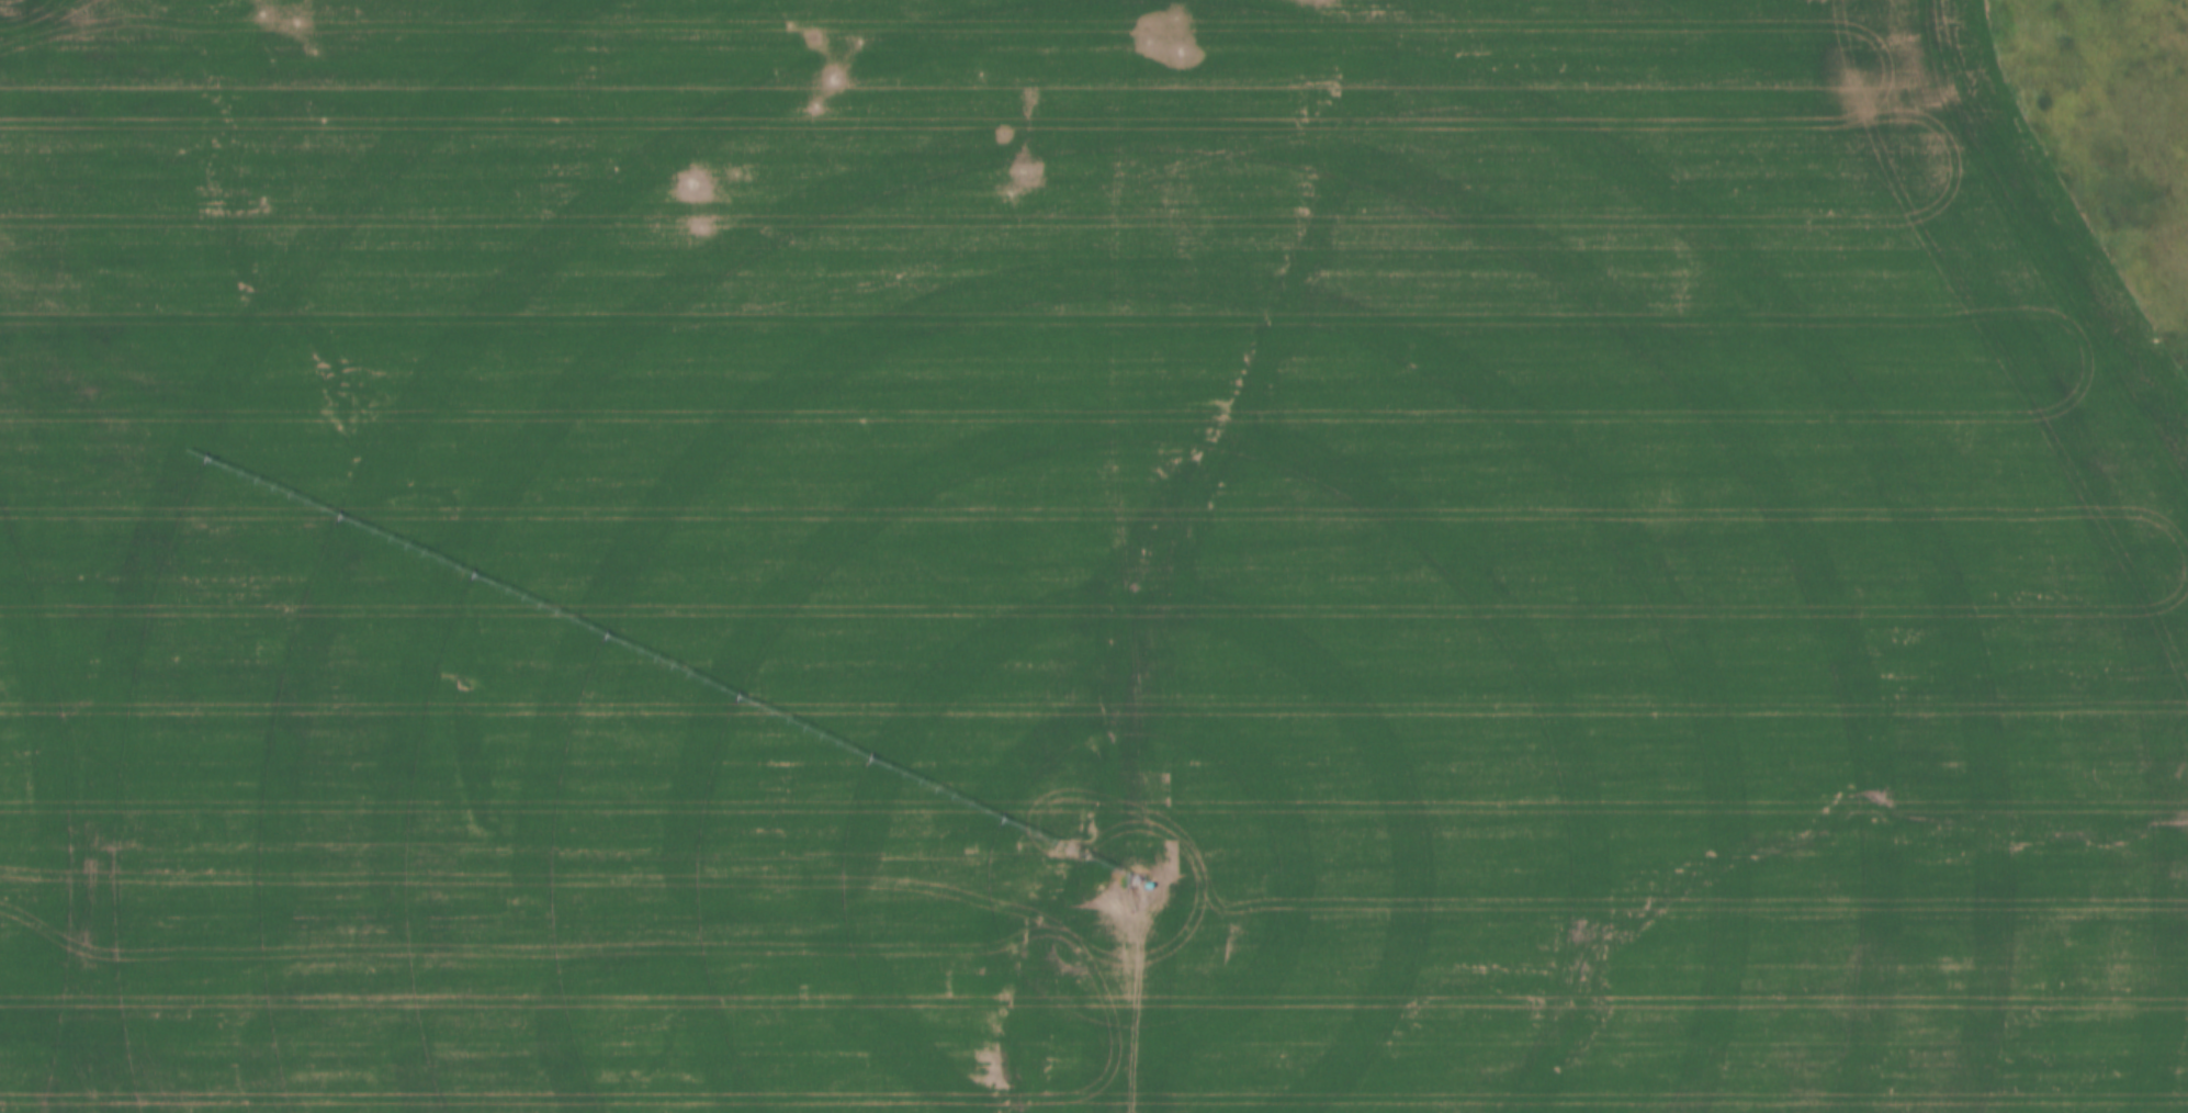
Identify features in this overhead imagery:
crop: (1073, 564)

